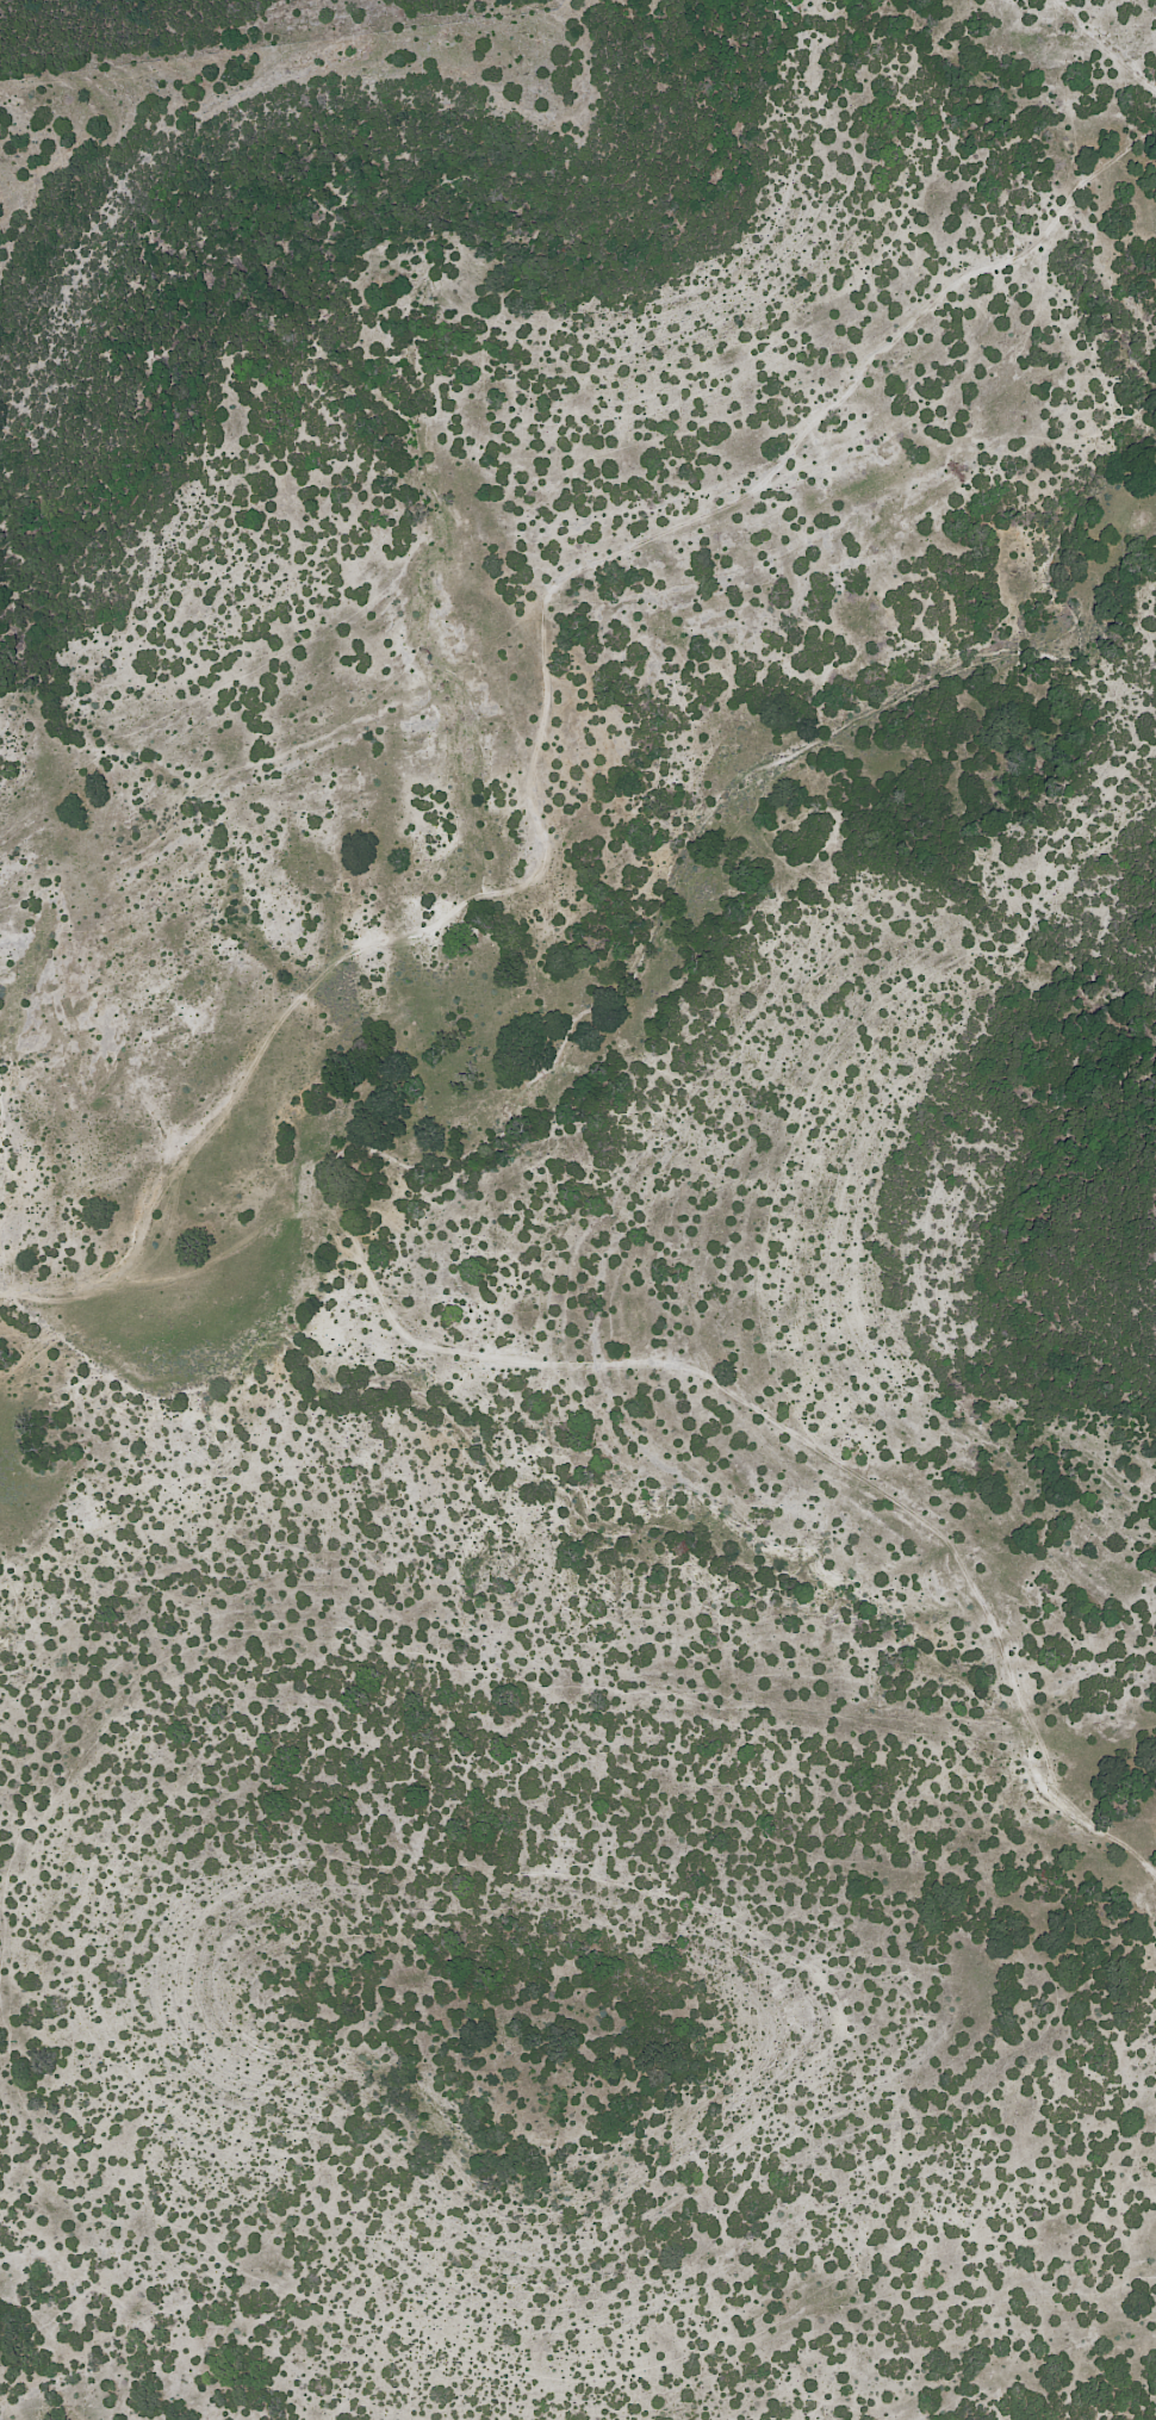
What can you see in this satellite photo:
road: (307, 992)

